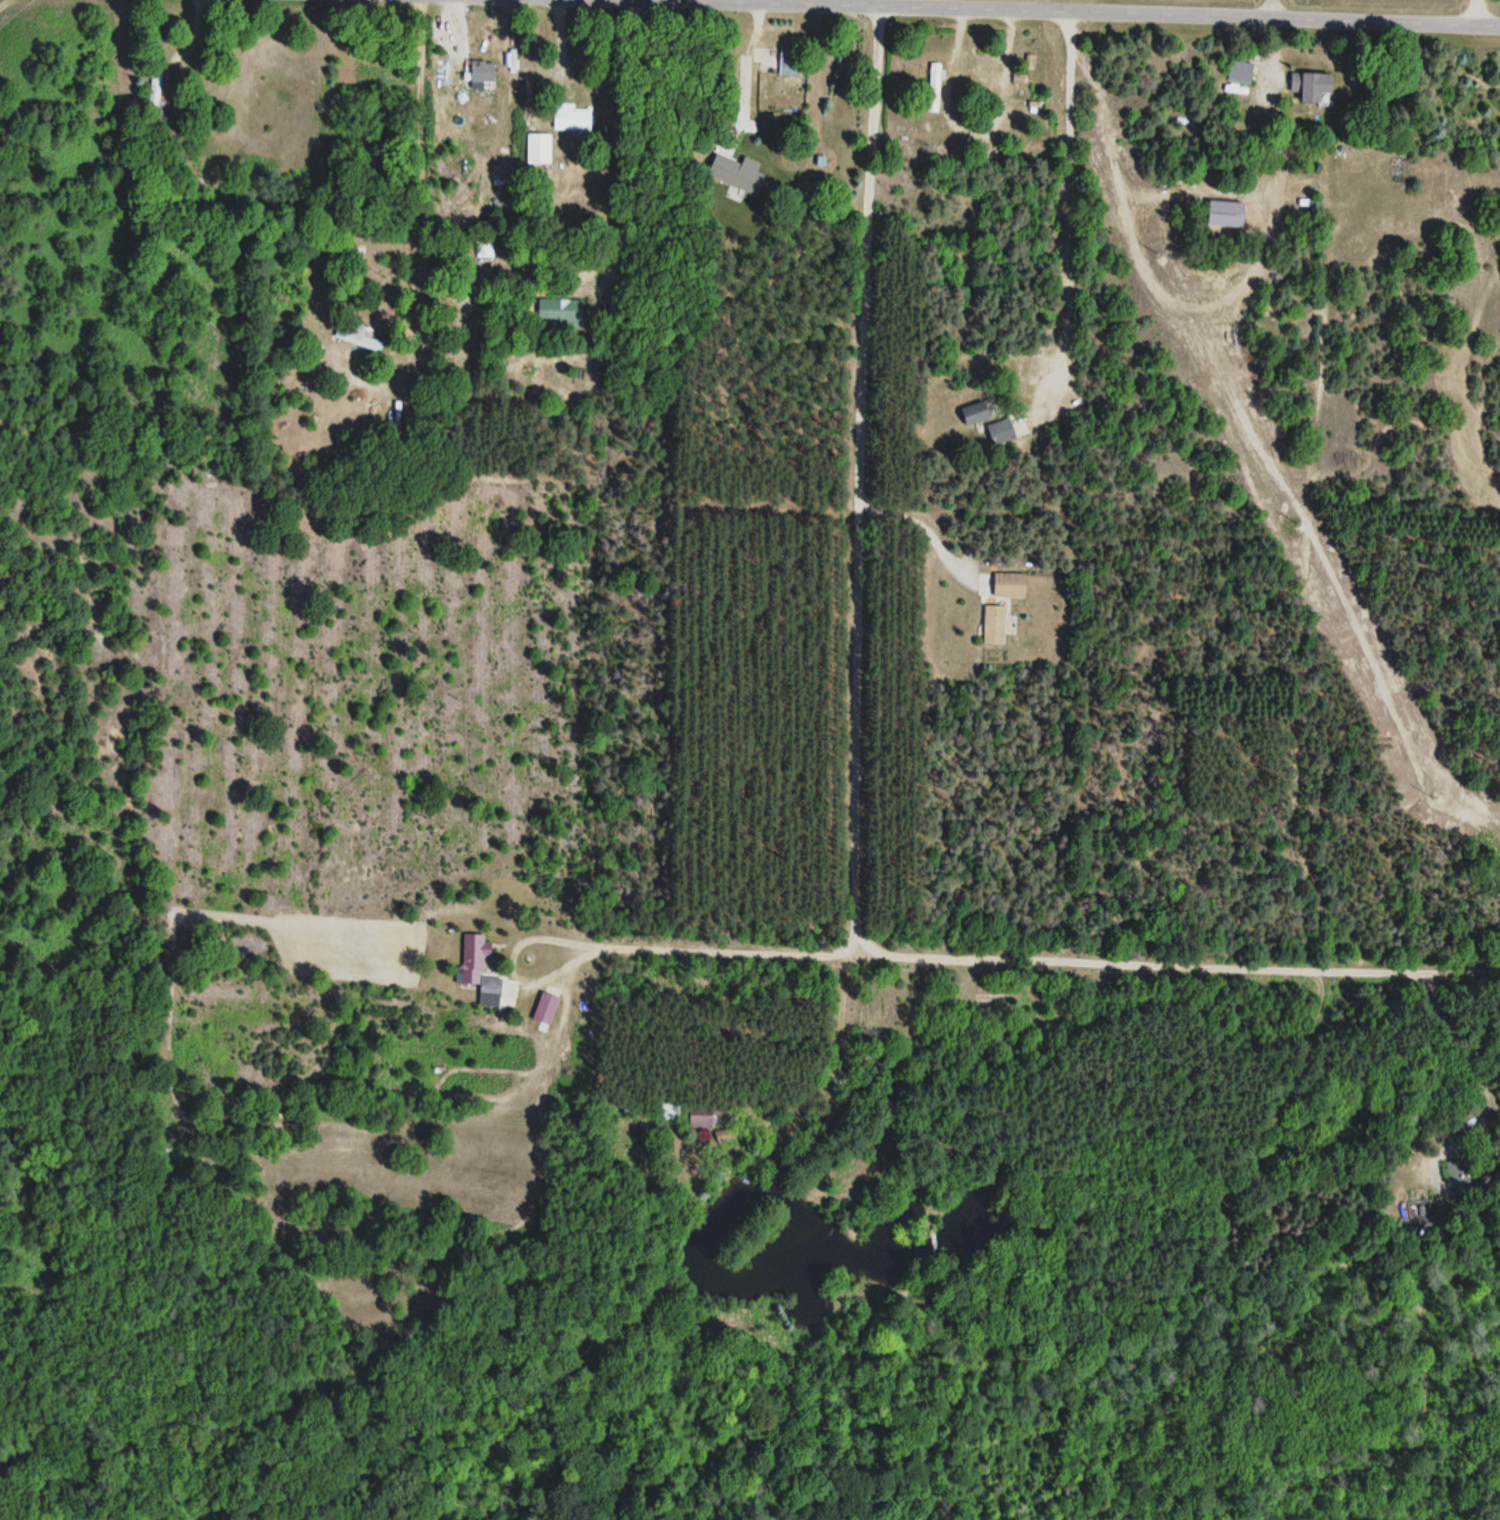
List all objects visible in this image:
road: (1064, 11)
building: (1030, 62)
building: (790, 66)
building: (481, 73)
building: (1240, 73)
building: (746, 79)
building: (1315, 87)
building: (933, 88)
building: (570, 119)
building: (538, 149)
building: (484, 250)
building: (343, 334)
building: (976, 414)
building: (1006, 430)
road: (862, 479)
building: (1009, 586)
building: (992, 626)
road: (1051, 960)
building: (468, 973)
building: (987, 1001)
building: (545, 1010)
building: (669, 1113)
building: (704, 1123)

